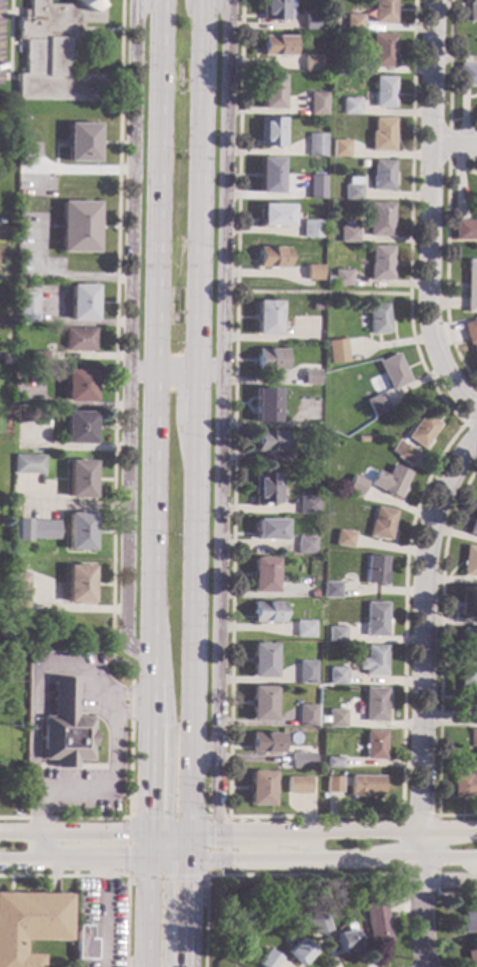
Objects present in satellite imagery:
road: (206, 0)
road: (217, 1)
road: (139, 10)
building: (273, 10)
building: (384, 12)
building: (472, 12)
road: (5, 15)
building: (312, 22)
building: (353, 22)
road: (99, 29)
road: (10, 43)
building: (276, 46)
road: (76, 49)
building: (382, 51)
building: (55, 52)
building: (312, 63)
building: (344, 66)
road: (450, 75)
building: (467, 75)
building: (271, 91)
building: (384, 92)
building: (318, 104)
building: (350, 107)
building: (271, 132)
building: (382, 135)
building: (82, 143)
building: (316, 145)
road: (448, 145)
road: (454, 145)
building: (341, 148)
building: (363, 163)
road: (79, 168)
building: (269, 176)
building: (382, 176)
road: (225, 186)
road: (203, 187)
building: (316, 187)
building: (353, 189)
building: (476, 208)
road: (430, 212)
building: (275, 215)
building: (380, 219)
building: (78, 227)
building: (311, 228)
building: (465, 230)
building: (348, 232)
building: (332, 233)
building: (272, 257)
building: (380, 263)
road: (446, 263)
building: (314, 273)
road: (55, 275)
building: (342, 278)
building: (328, 280)
road: (152, 285)
building: (471, 286)
road: (323, 291)
building: (82, 302)
building: (28, 307)
building: (316, 307)
building: (267, 318)
building: (378, 319)
road: (129, 330)
building: (471, 335)
building: (80, 339)
building: (336, 351)
building: (39, 357)
building: (5, 360)
building: (270, 360)
road: (165, 372)
building: (393, 372)
road: (211, 373)
building: (311, 377)
building: (79, 386)
building: (310, 397)
road: (200, 398)
building: (266, 405)
building: (376, 405)
building: (23, 418)
road: (464, 422)
building: (79, 428)
building: (423, 431)
building: (362, 439)
building: (270, 442)
building: (403, 453)
building: (310, 462)
building: (28, 464)
building: (80, 479)
road: (113, 481)
building: (390, 481)
building: (266, 488)
building: (353, 488)
building: (308, 505)
road: (77, 506)
building: (381, 524)
building: (473, 527)
building: (269, 529)
building: (37, 531)
building: (79, 532)
building: (344, 539)
building: (306, 545)
building: (469, 562)
building: (375, 571)
building: (263, 576)
building: (78, 585)
building: (330, 590)
building: (19, 592)
building: (313, 594)
building: (468, 602)
road: (218, 604)
building: (267, 612)
building: (374, 620)
road: (424, 627)
road: (197, 628)
building: (304, 630)
building: (335, 634)
building: (468, 644)
building: (306, 647)
road: (440, 658)
building: (373, 660)
building: (261, 661)
road: (79, 672)
building: (306, 672)
building: (337, 676)
building: (468, 687)
road: (126, 694)
road: (167, 701)
road: (144, 702)
building: (261, 704)
building: (373, 705)
road: (124, 714)
building: (306, 716)
road: (450, 717)
building: (335, 718)
building: (64, 729)
road: (31, 732)
building: (472, 738)
building: (264, 743)
building: (373, 746)
road: (205, 756)
building: (301, 761)
building: (333, 762)
road: (112, 784)
building: (331, 784)
building: (297, 785)
building: (464, 785)
building: (364, 786)
building: (260, 789)
traffic signals: (141, 811)
traffic signals: (168, 812)
road: (328, 815)
road: (427, 816)
road: (35, 825)
road: (335, 831)
road: (70, 832)
road: (154, 833)
road: (180, 833)
traffic signals: (213, 833)
road: (157, 842)
road: (307, 845)
road: (141, 846)
road: (193, 847)
road: (173, 853)
road: (450, 857)
road: (308, 858)
road: (87, 860)
traffic signals: (121, 860)
road: (153, 860)
road: (17, 861)
road: (179, 861)
road: (465, 862)
road: (127, 865)
road: (418, 872)
road: (109, 875)
road: (258, 876)
road: (451, 878)
traffic signals: (193, 880)
traffic signals: (167, 882)
road: (457, 893)
road: (425, 898)
road: (105, 913)
road: (140, 913)
road: (166, 913)
road: (192, 914)
building: (469, 921)
building: (30, 924)
building: (318, 925)
building: (376, 925)
building: (345, 939)
building: (85, 943)
building: (299, 952)
building: (471, 958)
building: (268, 960)

